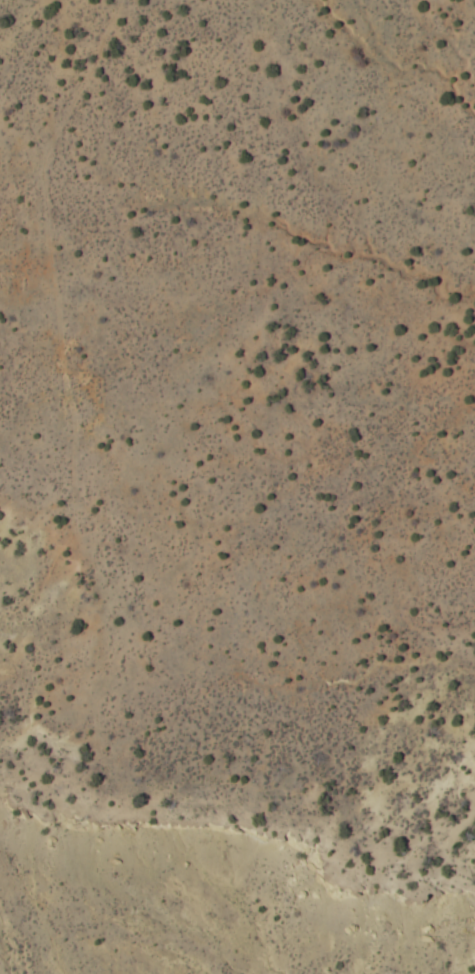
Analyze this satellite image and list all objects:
road: (71, 291)

